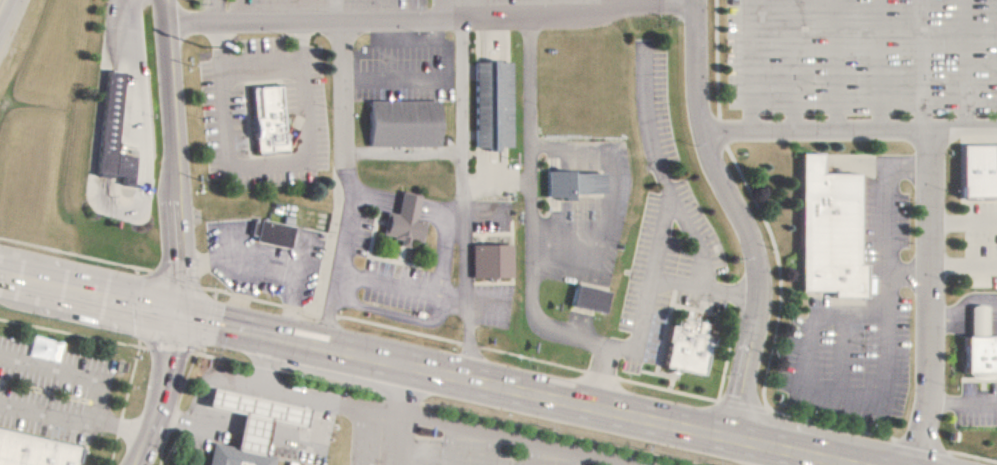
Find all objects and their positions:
road: (6, 13)
road: (428, 15)
building: (481, 110)
building: (264, 120)
building: (393, 127)
road: (847, 129)
building: (110, 133)
road: (176, 159)
road: (905, 166)
building: (972, 179)
building: (571, 183)
road: (349, 185)
road: (740, 218)
building: (402, 221)
building: (823, 230)
building: (270, 233)
building: (481, 266)
road: (906, 273)
road: (883, 285)
road: (929, 297)
building: (578, 306)
road: (847, 316)
traffic signals: (180, 319)
building: (684, 344)
road: (806, 350)
road: (839, 355)
road: (261, 361)
building: (968, 361)
road: (428, 373)
road: (163, 393)
road: (838, 394)
road: (378, 408)
building: (261, 416)
road: (402, 417)
road: (357, 434)
road: (450, 445)
road: (492, 450)
road: (533, 455)
building: (27, 456)
building: (245, 457)
road: (573, 459)
road: (616, 464)

